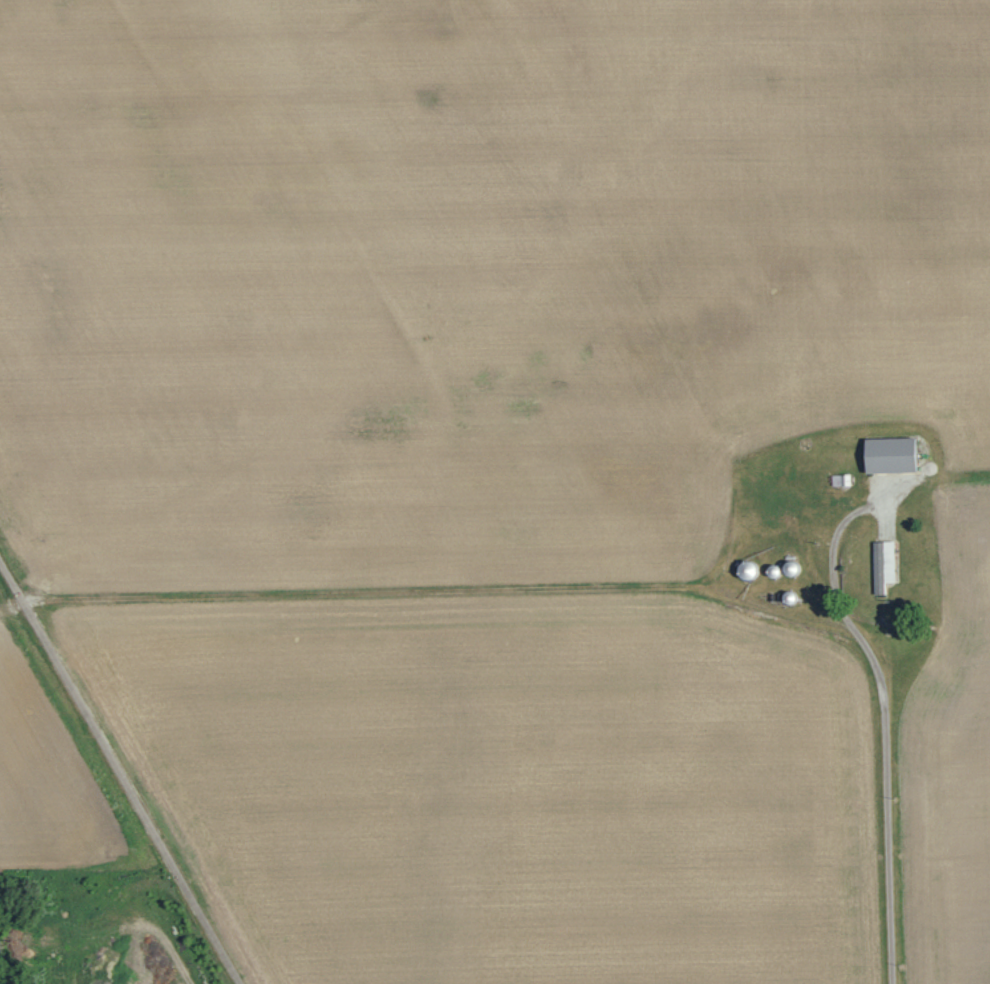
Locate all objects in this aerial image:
building: (889, 455)
building: (839, 480)
building: (883, 565)
building: (790, 568)
road: (833, 584)
road: (119, 774)
road: (885, 834)
road: (143, 924)

